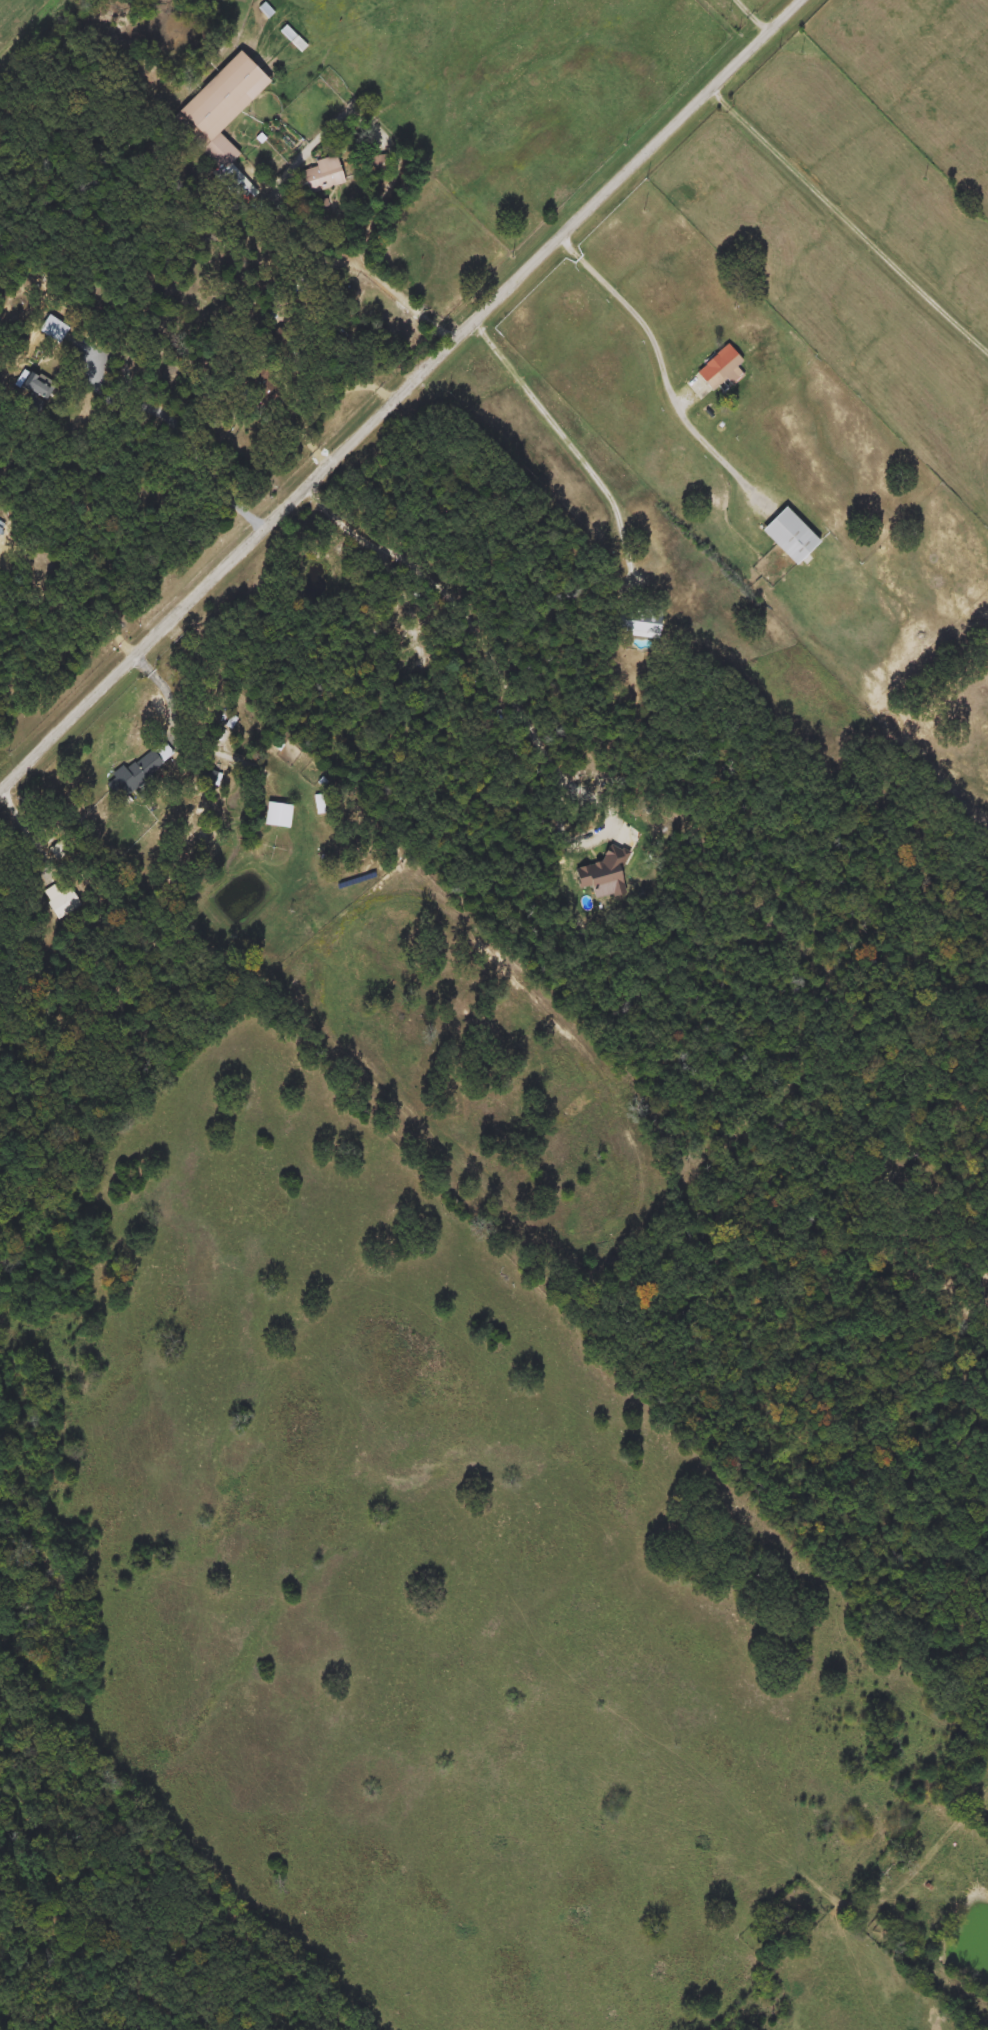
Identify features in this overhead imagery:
road: (755, 15)
building: (294, 38)
building: (218, 107)
building: (375, 164)
building: (322, 174)
road: (847, 217)
road: (294, 223)
road: (376, 272)
building: (51, 329)
road: (667, 368)
building: (720, 368)
road: (399, 393)
road: (547, 413)
road: (184, 435)
building: (1, 527)
building: (789, 535)
road: (639, 568)
road: (468, 617)
building: (636, 626)
road: (168, 694)
building: (139, 770)
road: (18, 814)
building: (277, 815)
building: (61, 901)
road: (940, 1659)
road: (919, 1898)

